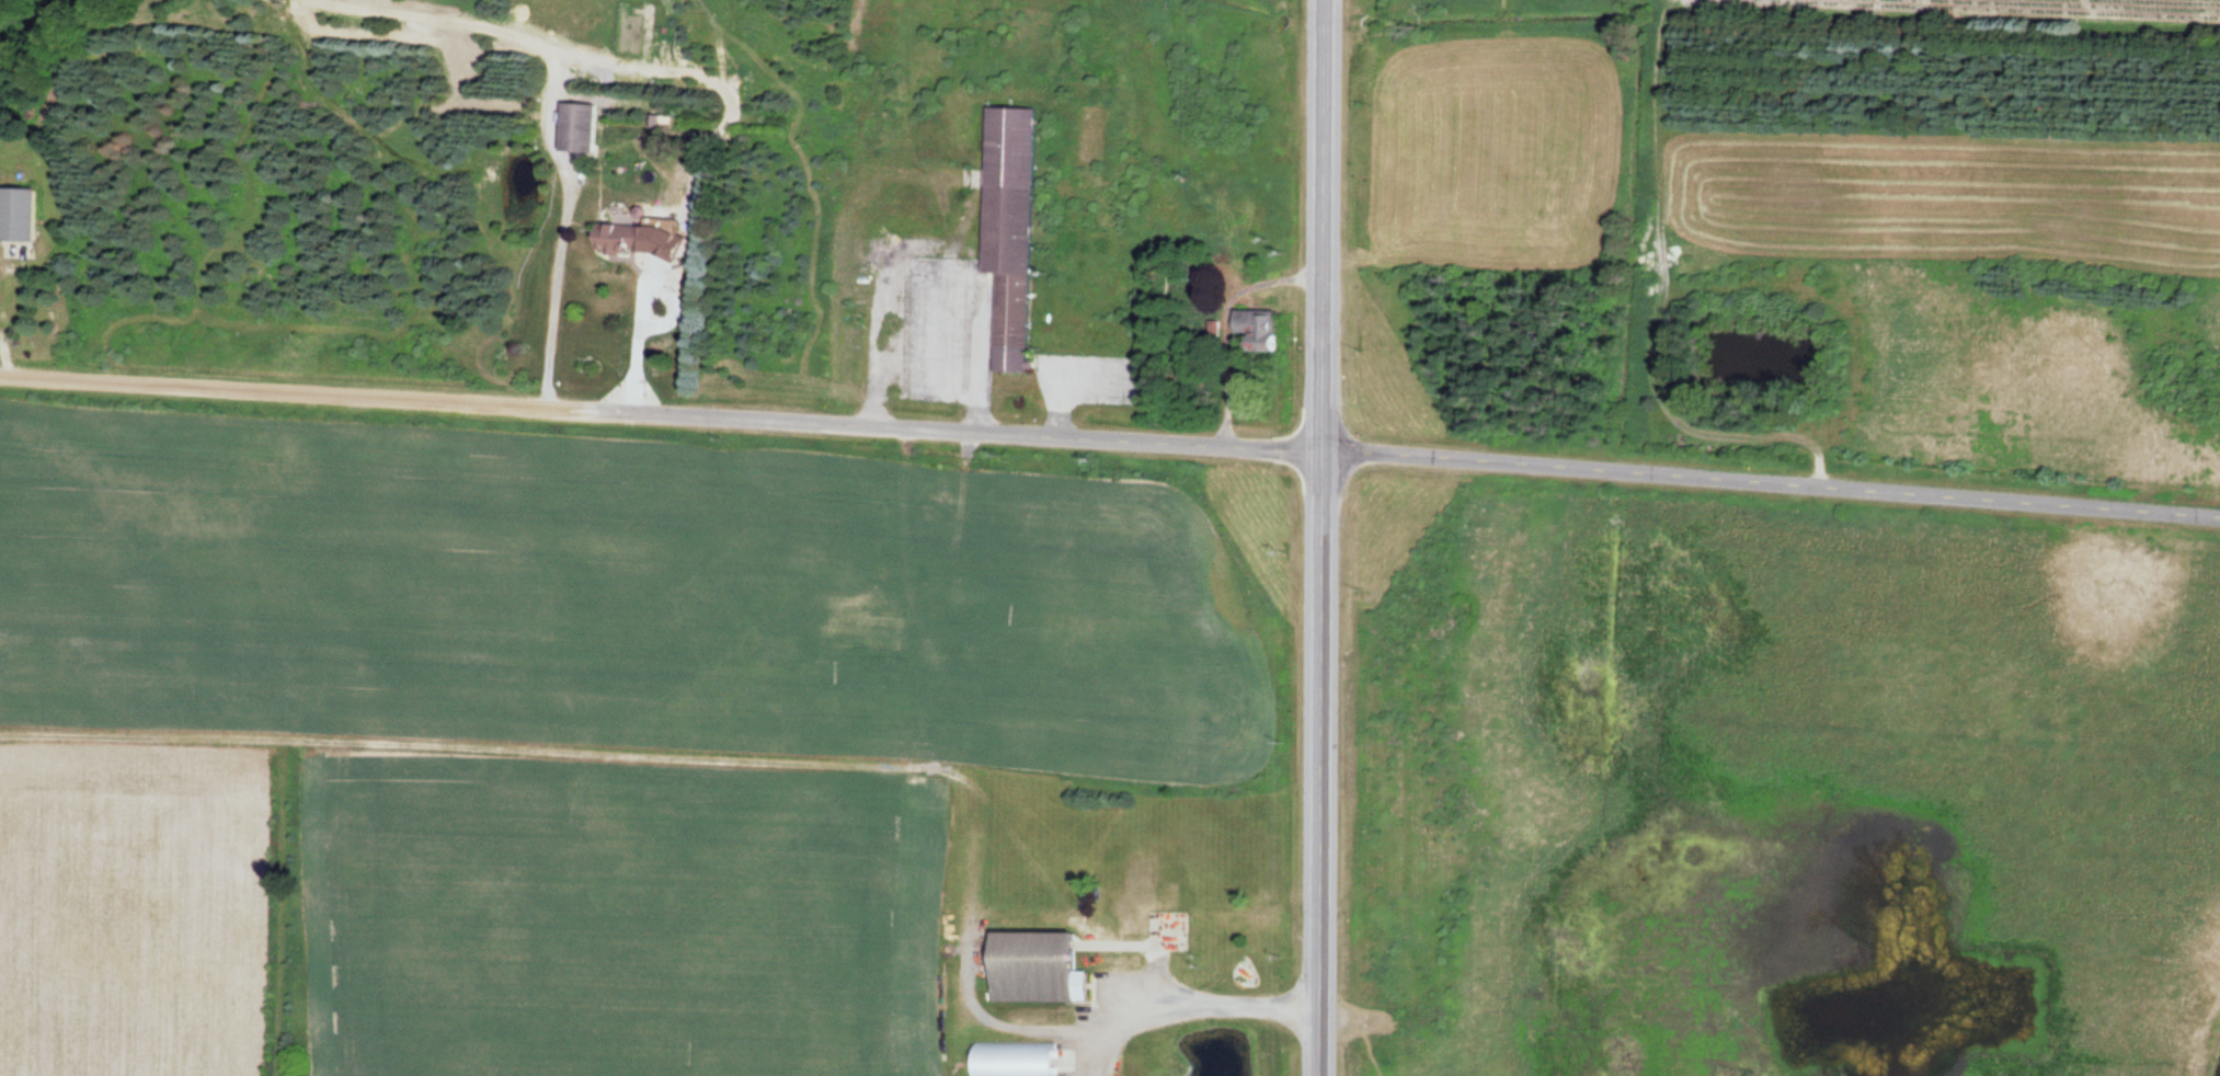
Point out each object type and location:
building: (576, 127)
building: (1007, 213)
building: (18, 215)
building: (623, 239)
building: (1189, 272)
building: (1255, 331)
road: (289, 389)
road: (950, 430)
road: (1771, 478)
road: (1321, 538)
building: (1032, 968)
building: (1010, 1058)

